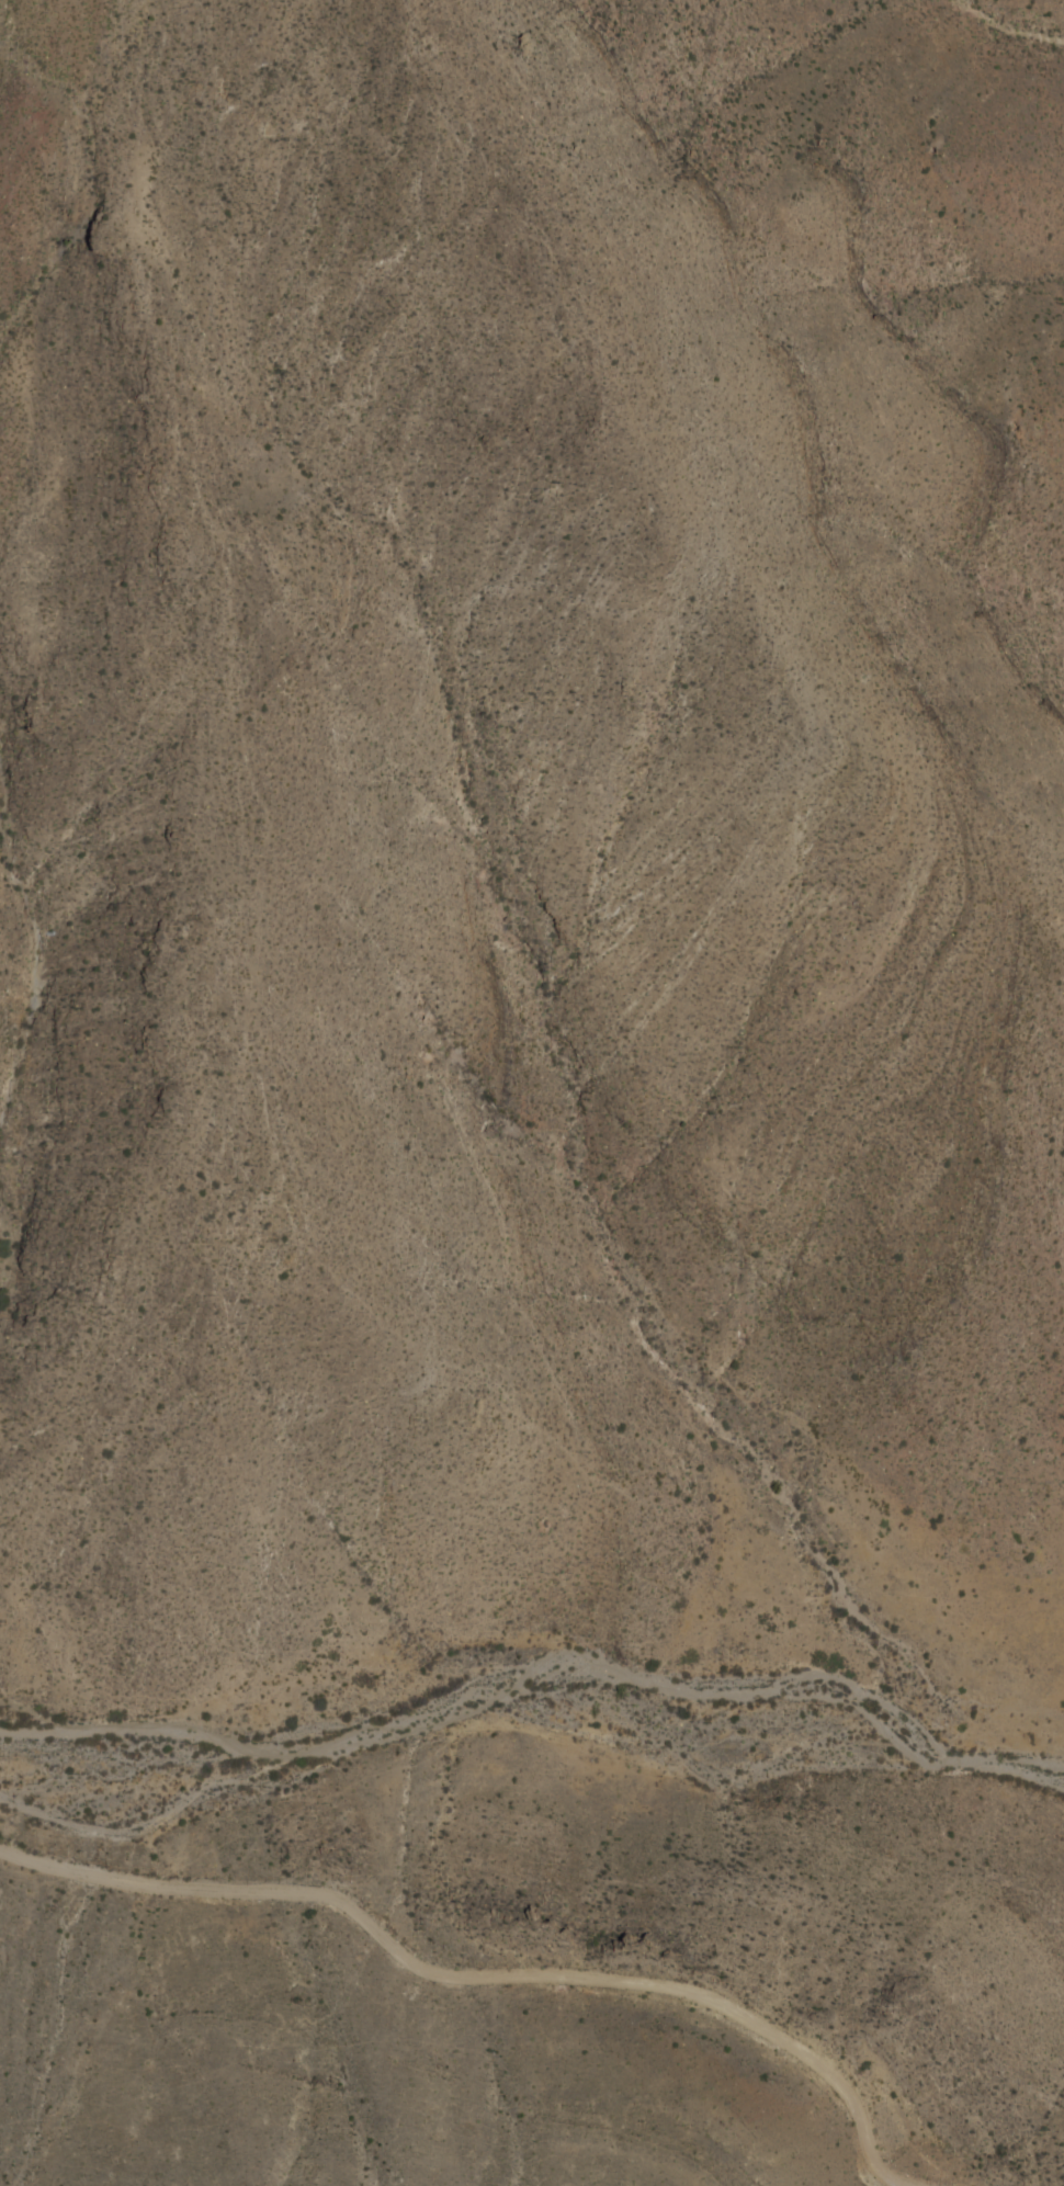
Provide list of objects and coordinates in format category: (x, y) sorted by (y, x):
road: (475, 1979)

